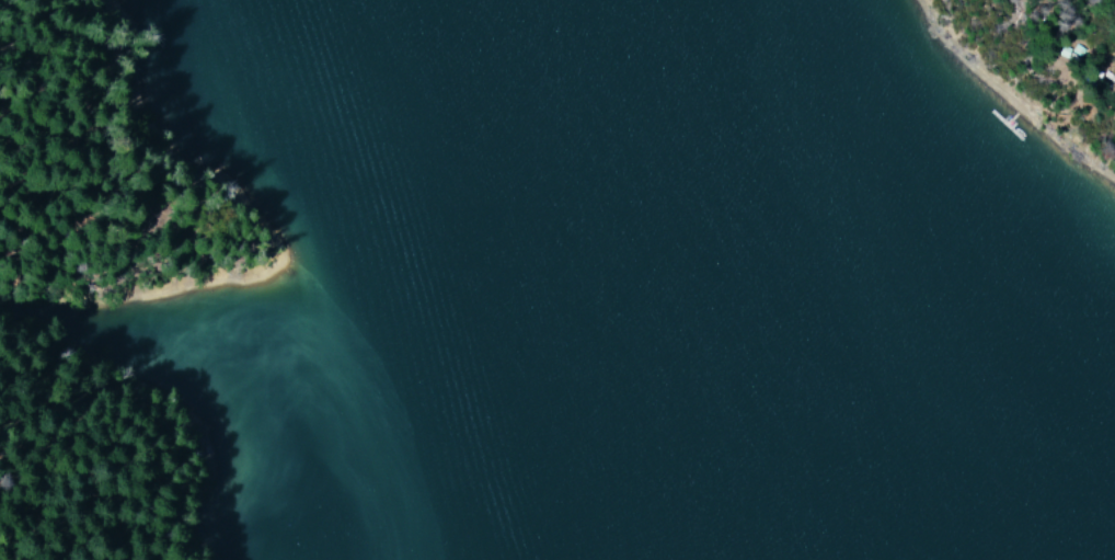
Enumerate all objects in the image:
river: (716, 294)

